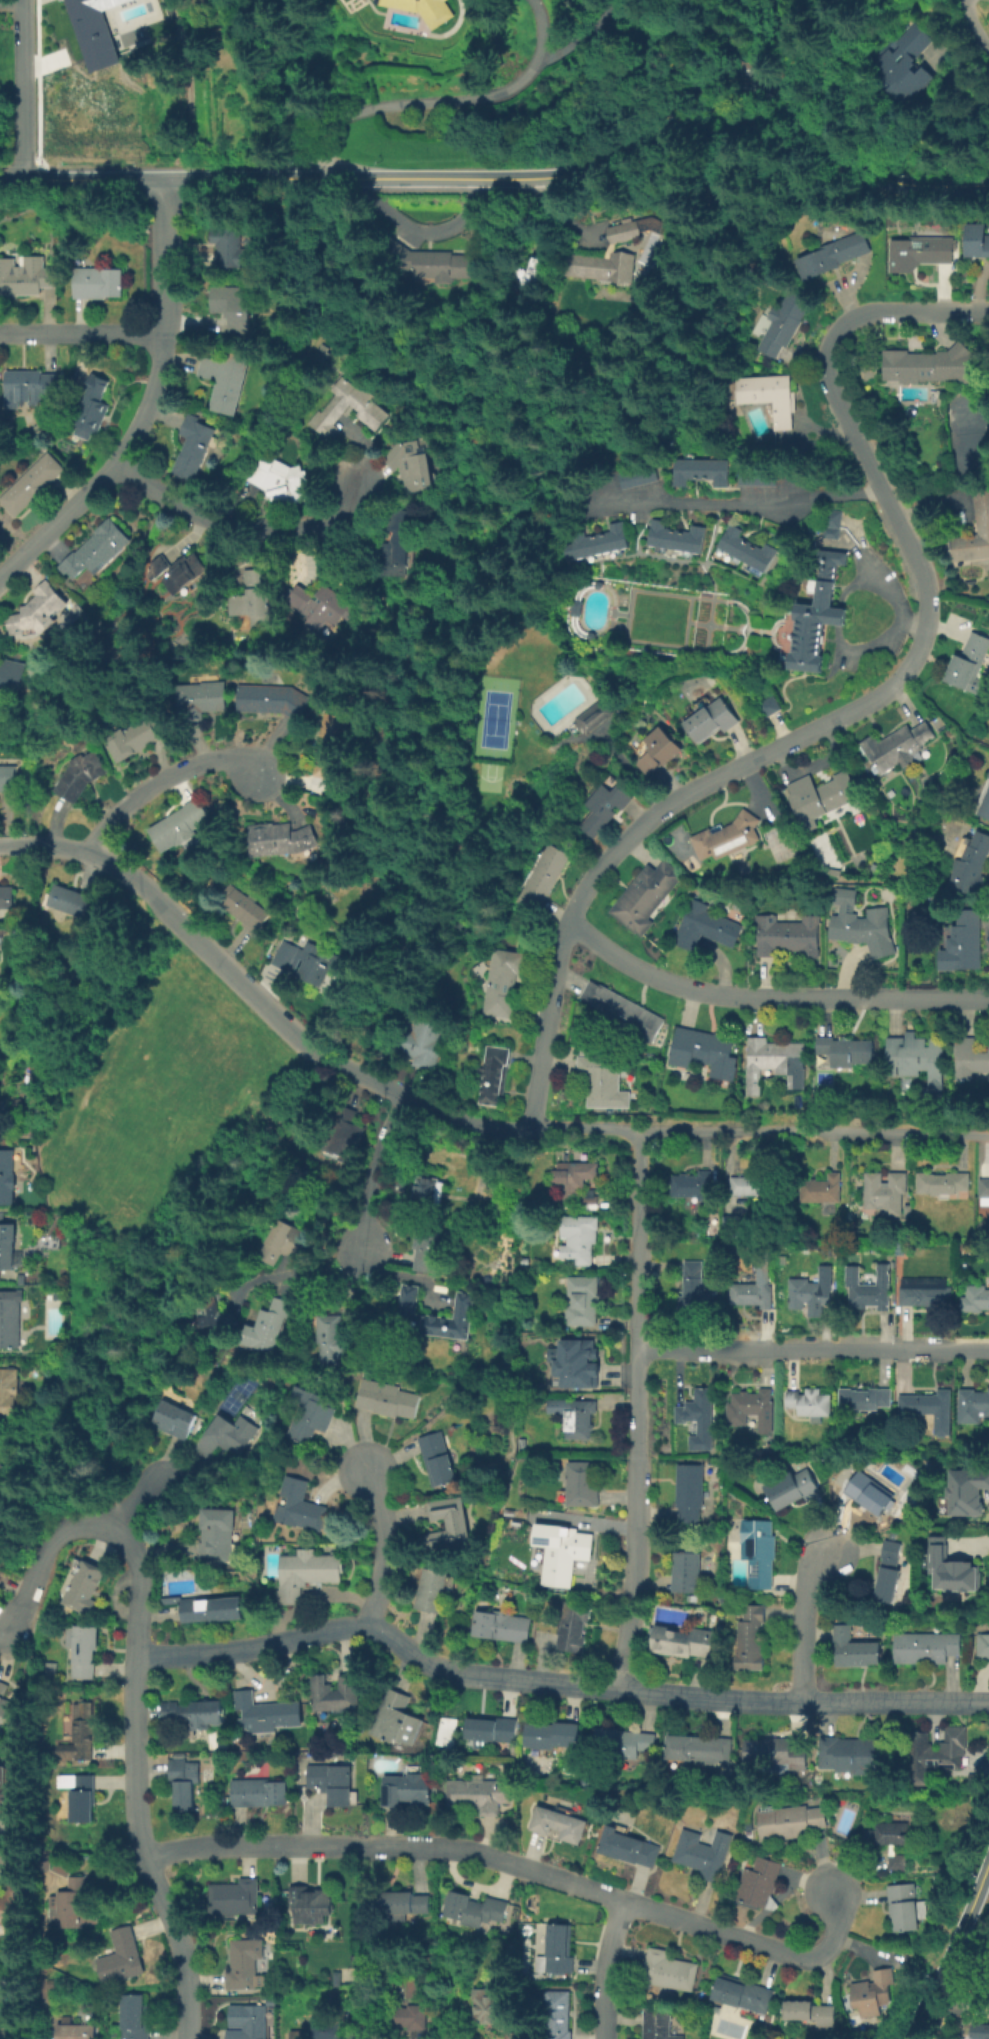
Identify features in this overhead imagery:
road: (10, 2)
road: (964, 2)
road: (966, 2)
building: (424, 10)
road: (543, 26)
road: (976, 26)
building: (92, 31)
road: (584, 34)
building: (906, 64)
road: (36, 82)
road: (20, 88)
road: (189, 89)
road: (412, 103)
road: (608, 157)
road: (26, 164)
road: (38, 164)
road: (41, 173)
road: (82, 178)
building: (975, 237)
building: (229, 244)
building: (920, 250)
building: (617, 251)
building: (832, 254)
building: (425, 261)
building: (528, 273)
building: (24, 278)
building: (101, 283)
building: (231, 306)
road: (909, 312)
building: (783, 322)
road: (82, 332)
building: (320, 352)
building: (925, 364)
building: (225, 380)
building: (29, 381)
building: (767, 394)
building: (92, 403)
road: (148, 404)
building: (369, 408)
building: (192, 447)
building: (409, 464)
building: (698, 470)
building: (634, 475)
building: (755, 475)
building: (279, 480)
building: (30, 483)
road: (739, 503)
building: (981, 508)
building: (829, 516)
road: (238, 523)
road: (644, 527)
building: (827, 531)
road: (711, 532)
building: (673, 536)
building: (597, 540)
building: (395, 542)
building: (744, 548)
building: (99, 551)
road: (673, 558)
building: (158, 564)
building: (183, 571)
road: (371, 580)
road: (847, 583)
road: (711, 588)
building: (251, 592)
road: (580, 603)
building: (320, 604)
road: (608, 607)
building: (38, 609)
road: (611, 611)
road: (465, 613)
road: (619, 613)
road: (626, 614)
road: (607, 615)
road: (834, 615)
building: (814, 616)
road: (896, 617)
road: (685, 621)
road: (695, 622)
road: (704, 623)
road: (909, 624)
road: (722, 626)
road: (705, 639)
road: (421, 644)
building: (968, 660)
building: (11, 673)
road: (588, 677)
street lamp: (471, 691)
street lamp: (518, 694)
building: (200, 697)
building: (271, 698)
building: (766, 705)
street lamp: (469, 713)
building: (592, 714)
park: (492, 717)
building: (710, 717)
street lamp: (515, 718)
road: (605, 722)
building: (132, 736)
street lamp: (467, 737)
road: (426, 738)
road: (572, 738)
road: (789, 738)
street lamp: (513, 741)
building: (331, 745)
building: (900, 745)
building: (658, 749)
street lamp: (465, 759)
street lamp: (510, 763)
road: (627, 768)
building: (79, 773)
park: (487, 774)
building: (988, 775)
building: (7, 777)
road: (158, 782)
road: (400, 788)
building: (821, 798)
road: (419, 799)
road: (387, 801)
building: (985, 803)
building: (604, 806)
building: (179, 828)
building: (281, 837)
building: (727, 838)
road: (364, 862)
building: (971, 864)
road: (466, 866)
building: (832, 871)
building: (541, 876)
building: (645, 894)
building: (6, 896)
building: (70, 900)
building: (243, 906)
building: (861, 922)
building: (708, 929)
building: (786, 934)
building: (962, 946)
building: (304, 960)
building: (503, 981)
road: (767, 997)
building: (623, 1012)
building: (422, 1039)
building: (845, 1049)
building: (700, 1050)
building: (914, 1055)
building: (969, 1057)
building: (771, 1061)
building: (495, 1072)
building: (604, 1086)
park: (156, 1107)
road: (448, 1116)
building: (342, 1135)
road: (377, 1169)
building: (575, 1177)
building: (8, 1178)
building: (942, 1181)
building: (756, 1183)
building: (692, 1184)
building: (984, 1186)
building: (820, 1188)
building: (884, 1191)
building: (429, 1193)
building: (589, 1198)
building: (907, 1209)
building: (1, 1215)
building: (732, 1225)
building: (579, 1235)
building: (283, 1241)
building: (6, 1245)
building: (430, 1246)
building: (892, 1264)
road: (297, 1276)
building: (693, 1286)
building: (869, 1288)
building: (753, 1292)
building: (811, 1295)
building: (926, 1295)
building: (584, 1296)
building: (975, 1298)
building: (211, 1311)
building: (436, 1314)
building: (9, 1319)
building: (268, 1324)
building: (337, 1337)
road: (814, 1349)
building: (576, 1361)
building: (8, 1391)
building: (864, 1397)
building: (390, 1398)
building: (809, 1401)
building: (973, 1404)
building: (749, 1405)
building: (929, 1409)
road: (639, 1412)
building: (313, 1413)
building: (578, 1417)
building: (695, 1417)
building: (174, 1418)
building: (223, 1436)
building: (521, 1442)
road: (19, 1452)
building: (439, 1457)
road: (52, 1458)
building: (582, 1483)
building: (794, 1488)
road: (93, 1490)
building: (689, 1491)
building: (868, 1491)
building: (967, 1493)
road: (131, 1503)
building: (302, 1505)
building: (448, 1522)
building: (218, 1532)
road: (387, 1549)
building: (759, 1550)
building: (563, 1554)
building: (952, 1570)
building: (306, 1571)
building: (888, 1571)
building: (685, 1574)
building: (84, 1585)
building: (431, 1589)
building: (208, 1607)
road: (805, 1623)
building: (500, 1625)
building: (573, 1626)
building: (751, 1637)
building: (683, 1640)
building: (983, 1645)
building: (854, 1647)
building: (85, 1649)
building: (928, 1650)
building: (51, 1669)
road: (555, 1685)
building: (335, 1692)
road: (136, 1698)
building: (4, 1705)
building: (265, 1712)
building: (194, 1715)
building: (395, 1717)
building: (489, 1729)
building: (83, 1732)
building: (551, 1734)
building: (623, 1741)
building: (699, 1748)
building: (773, 1753)
building: (853, 1754)
building: (217, 1755)
building: (930, 1757)
building: (976, 1777)
building: (184, 1781)
building: (331, 1781)
building: (13, 1786)
building: (406, 1789)
building: (258, 1791)
building: (81, 1794)
building: (473, 1794)
building: (790, 1820)
building: (558, 1823)
building: (894, 1832)
building: (627, 1846)
building: (705, 1854)
building: (46, 1861)
building: (898, 1861)
building: (65, 1865)
road: (524, 1866)
building: (759, 1882)
building: (234, 1896)
building: (16, 1901)
building: (72, 1903)
building: (310, 1903)
building: (401, 1903)
building: (905, 1906)
building: (474, 1908)
building: (556, 1949)
road: (949, 1949)
building: (122, 1956)
building: (243, 1964)
road: (605, 1968)
building: (668, 1970)
building: (336, 1978)
building: (389, 1983)
building: (414, 1987)
building: (872, 1992)
building: (742, 1993)
building: (335, 1998)
building: (269, 2000)
building: (489, 2005)
building: (809, 2011)
building: (557, 2014)
building: (398, 2016)
building: (134, 2017)
building: (246, 2022)
building: (659, 2023)
building: (326, 2029)
building: (979, 2030)
building: (76, 2031)
building: (297, 2034)

